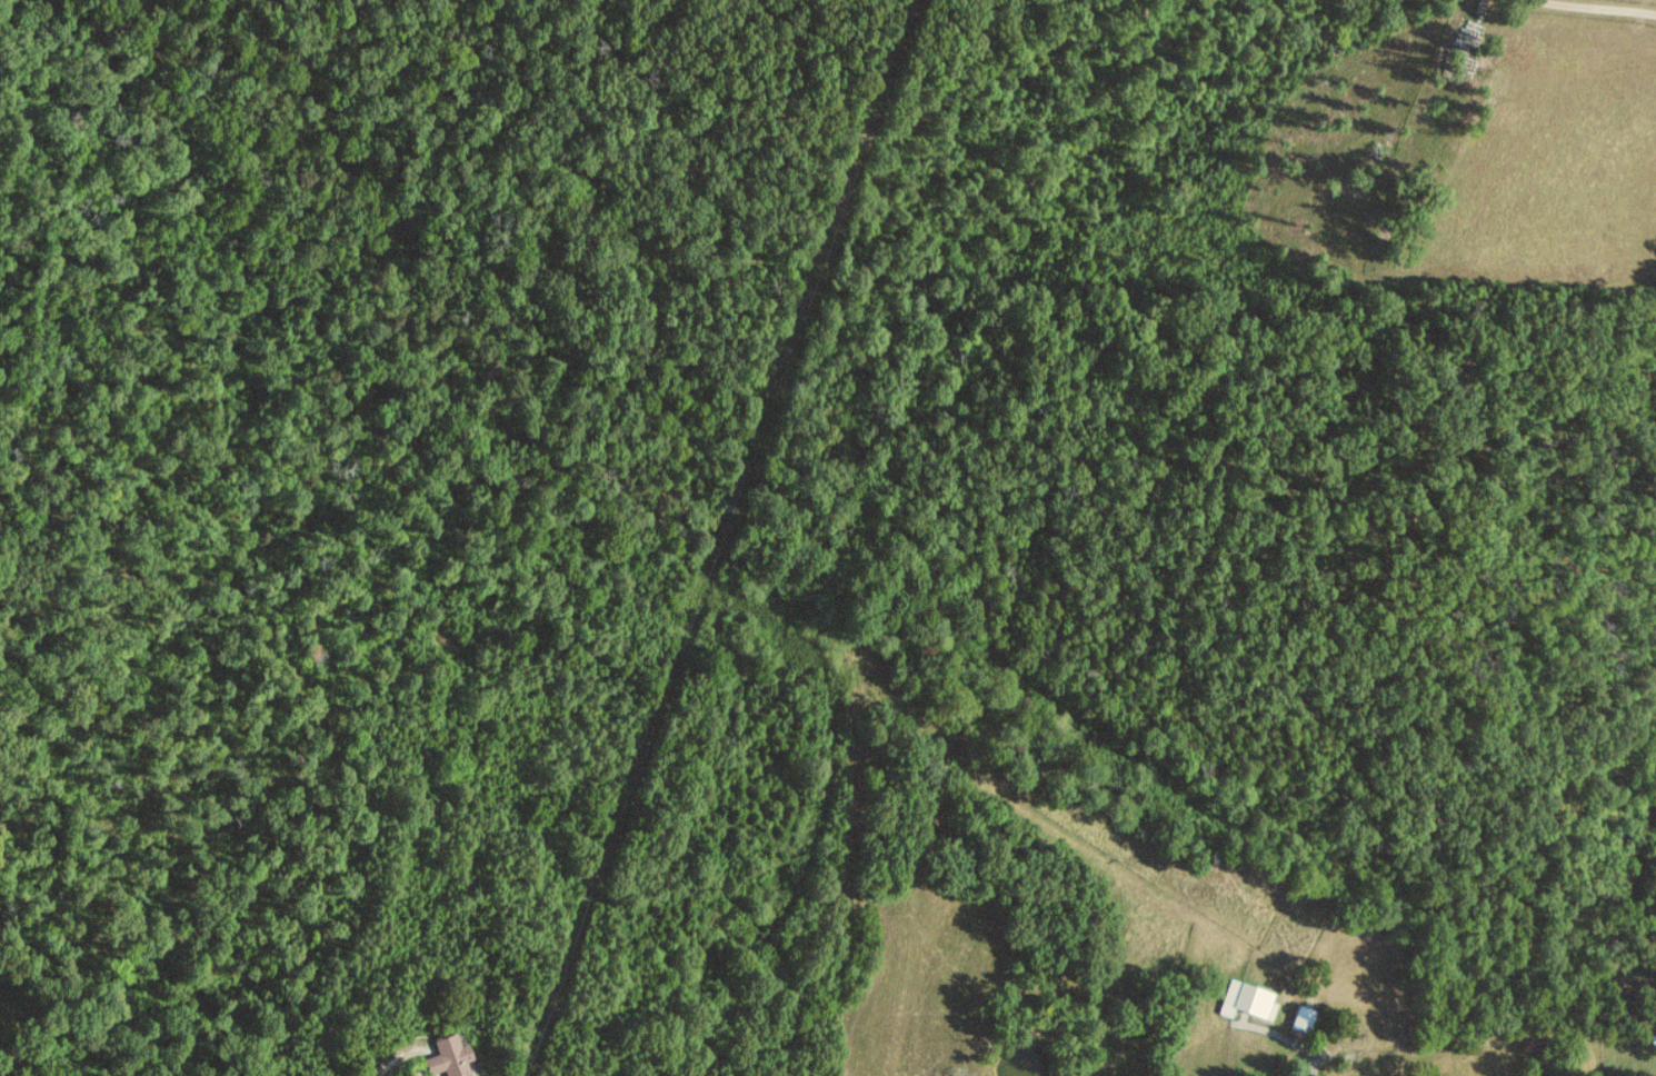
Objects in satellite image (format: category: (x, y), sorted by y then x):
road: (1589, 10)
building: (1250, 1002)
building: (1305, 1019)
road: (422, 1040)
building: (448, 1057)

